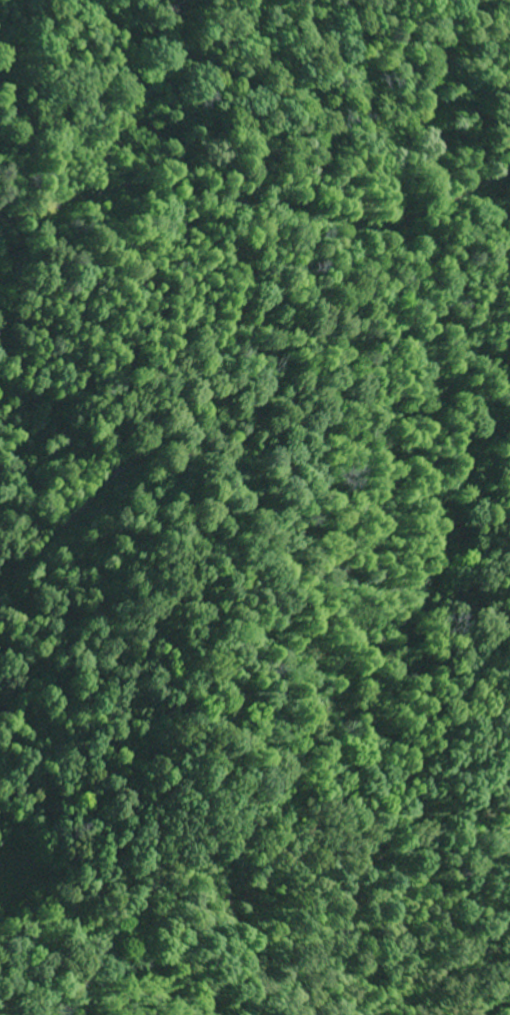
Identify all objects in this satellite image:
road: (276, 119)

